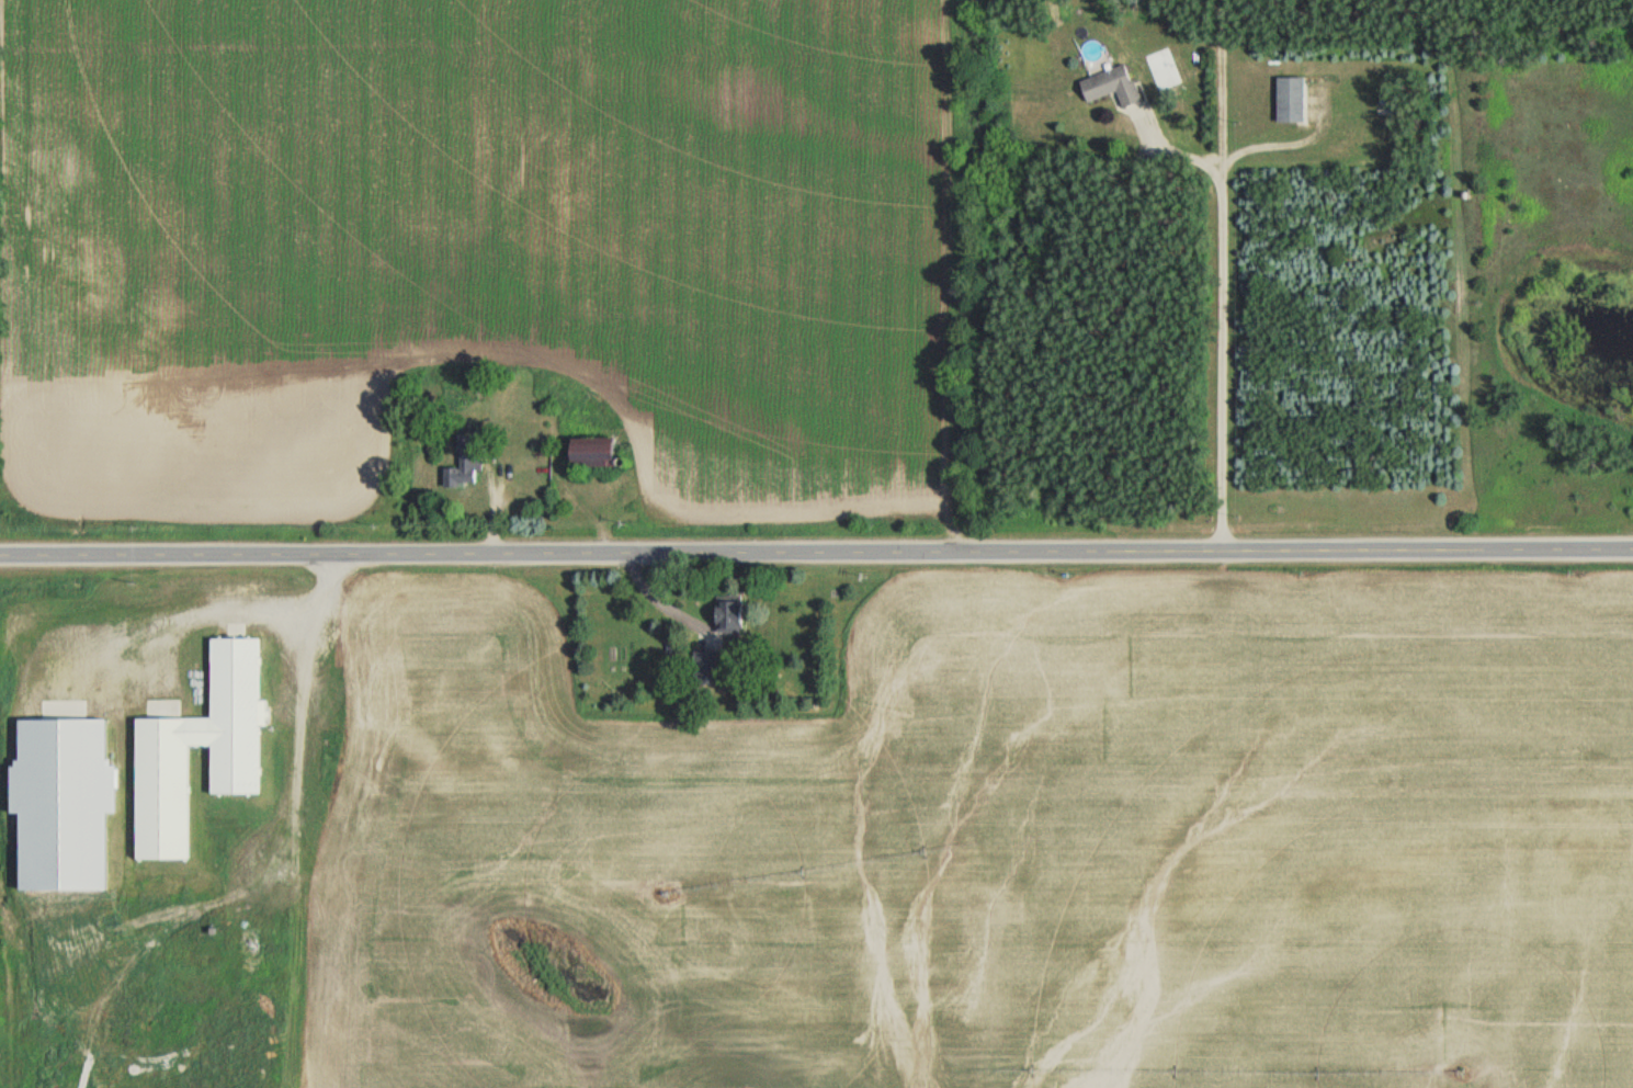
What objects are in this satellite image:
building: (1110, 86)
building: (1289, 99)
road: (1215, 303)
building: (586, 455)
building: (464, 464)
road: (816, 548)
building: (727, 615)
building: (708, 668)
building: (160, 770)
building: (59, 803)

